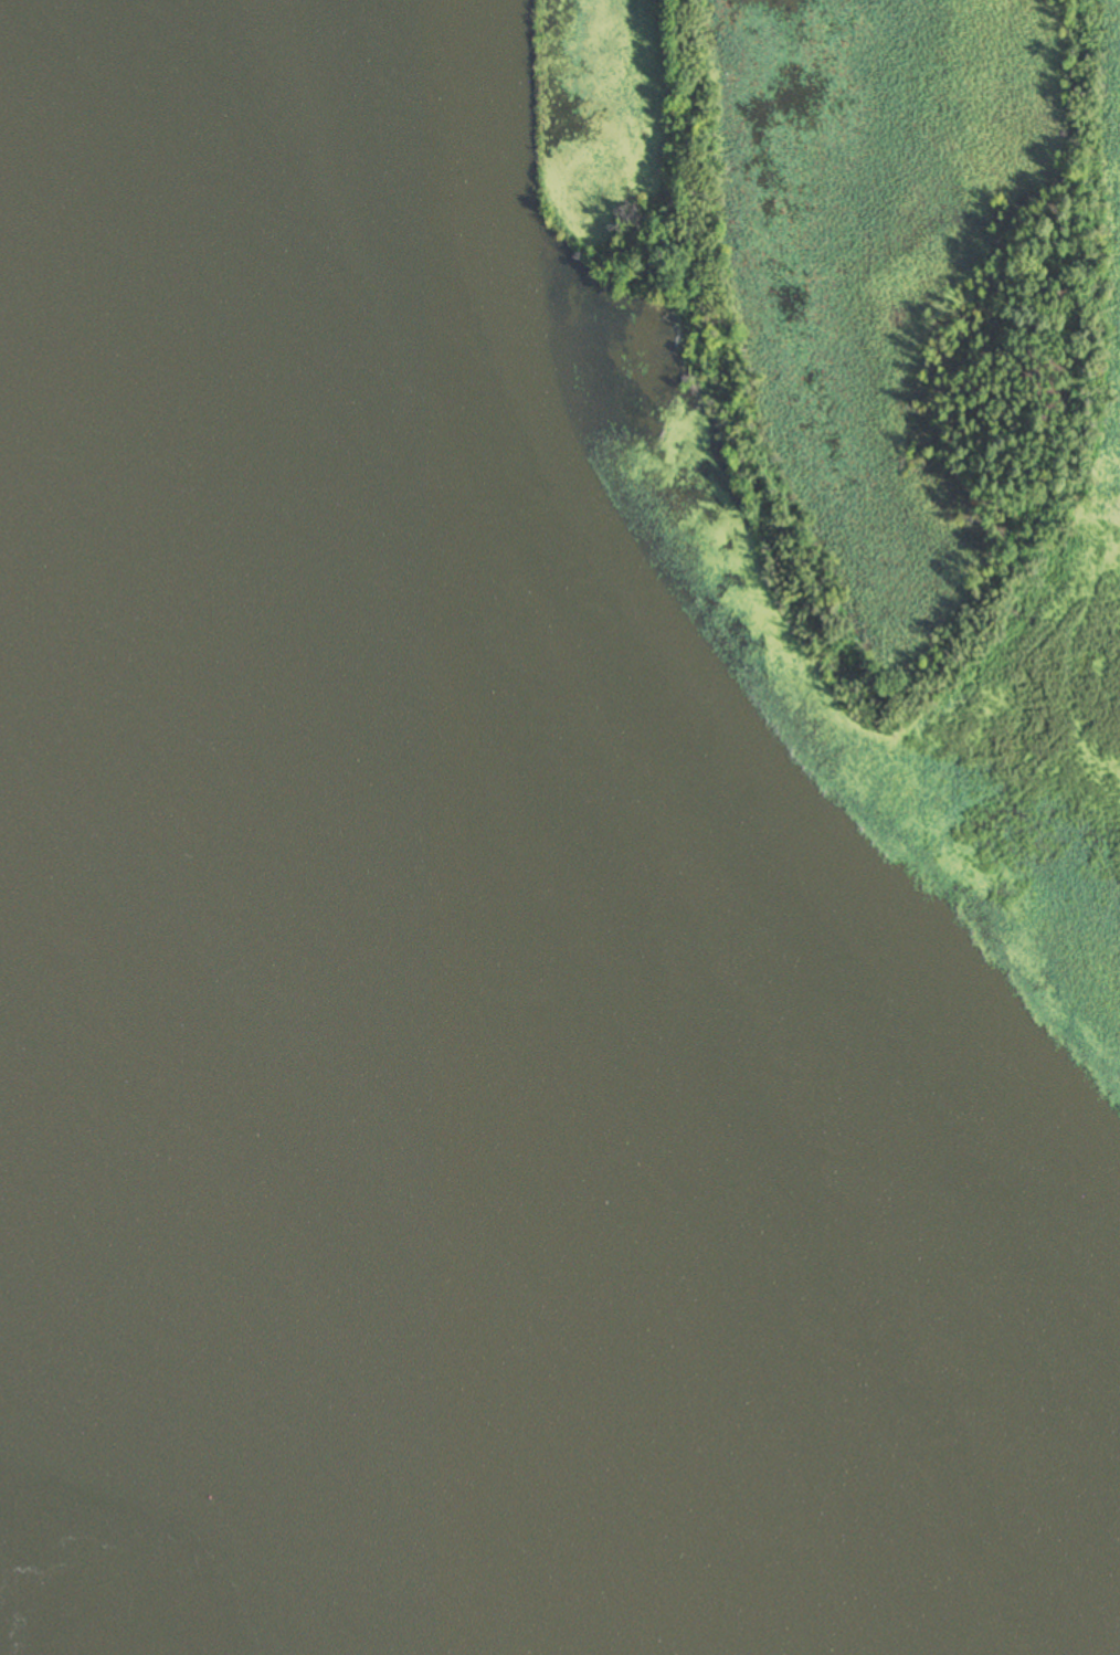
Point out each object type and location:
river: (3, 1641)

